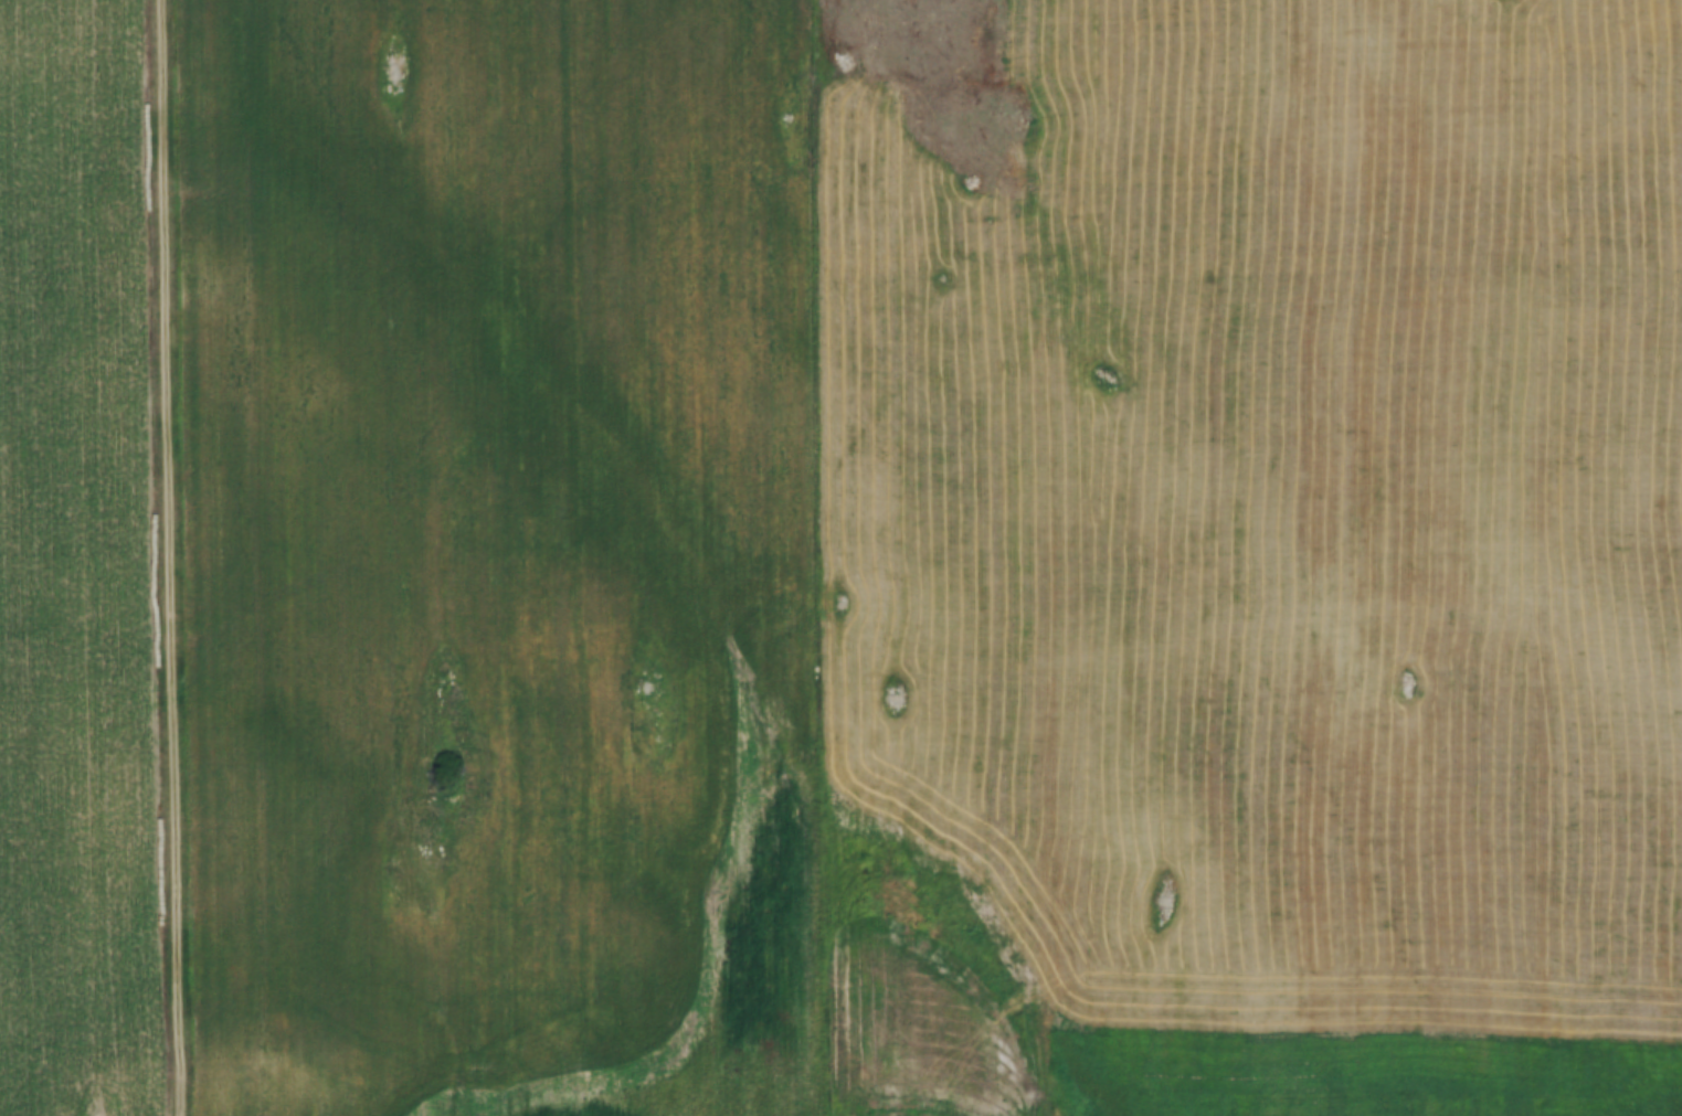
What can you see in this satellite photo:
road: (169, 557)

